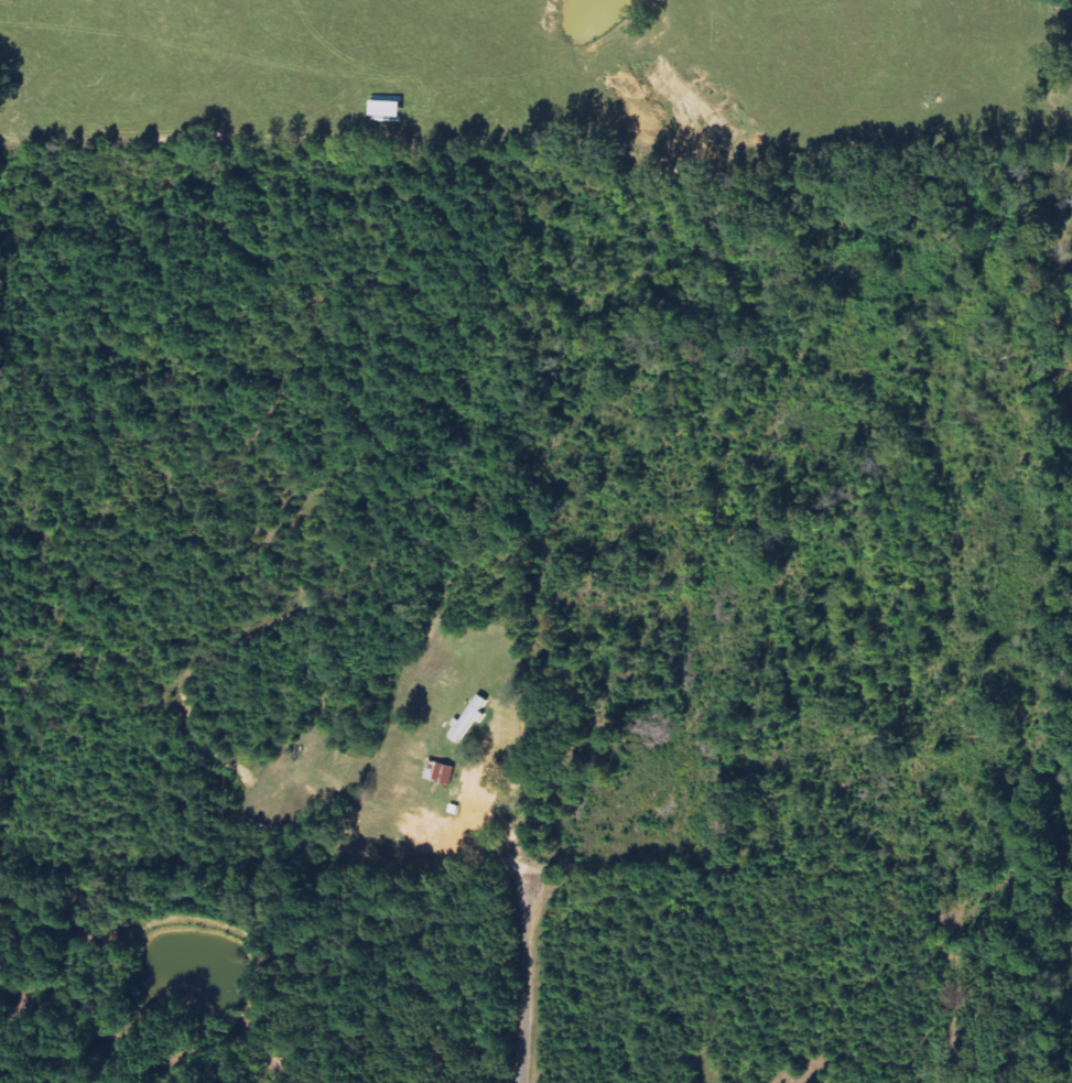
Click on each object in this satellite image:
building: (469, 719)
building: (441, 773)
road: (520, 979)

